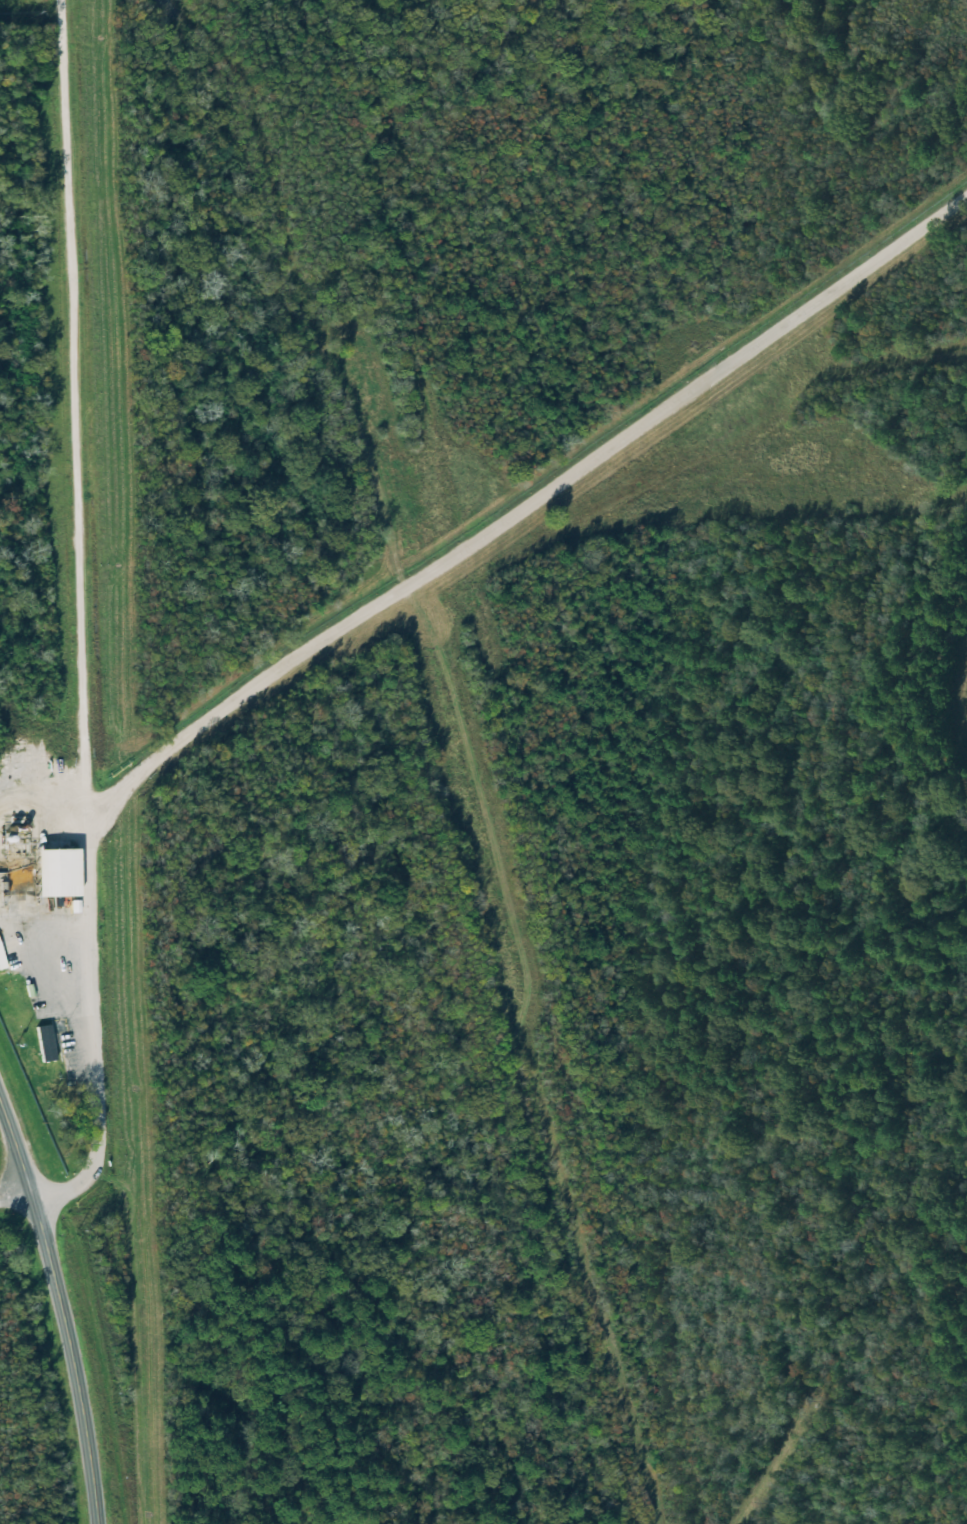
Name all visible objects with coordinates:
road: (235, 103)
road: (526, 501)
road: (91, 618)
building: (56, 871)
airport runway: (501, 943)
building: (45, 1042)
road: (16, 1197)
road: (61, 1309)

